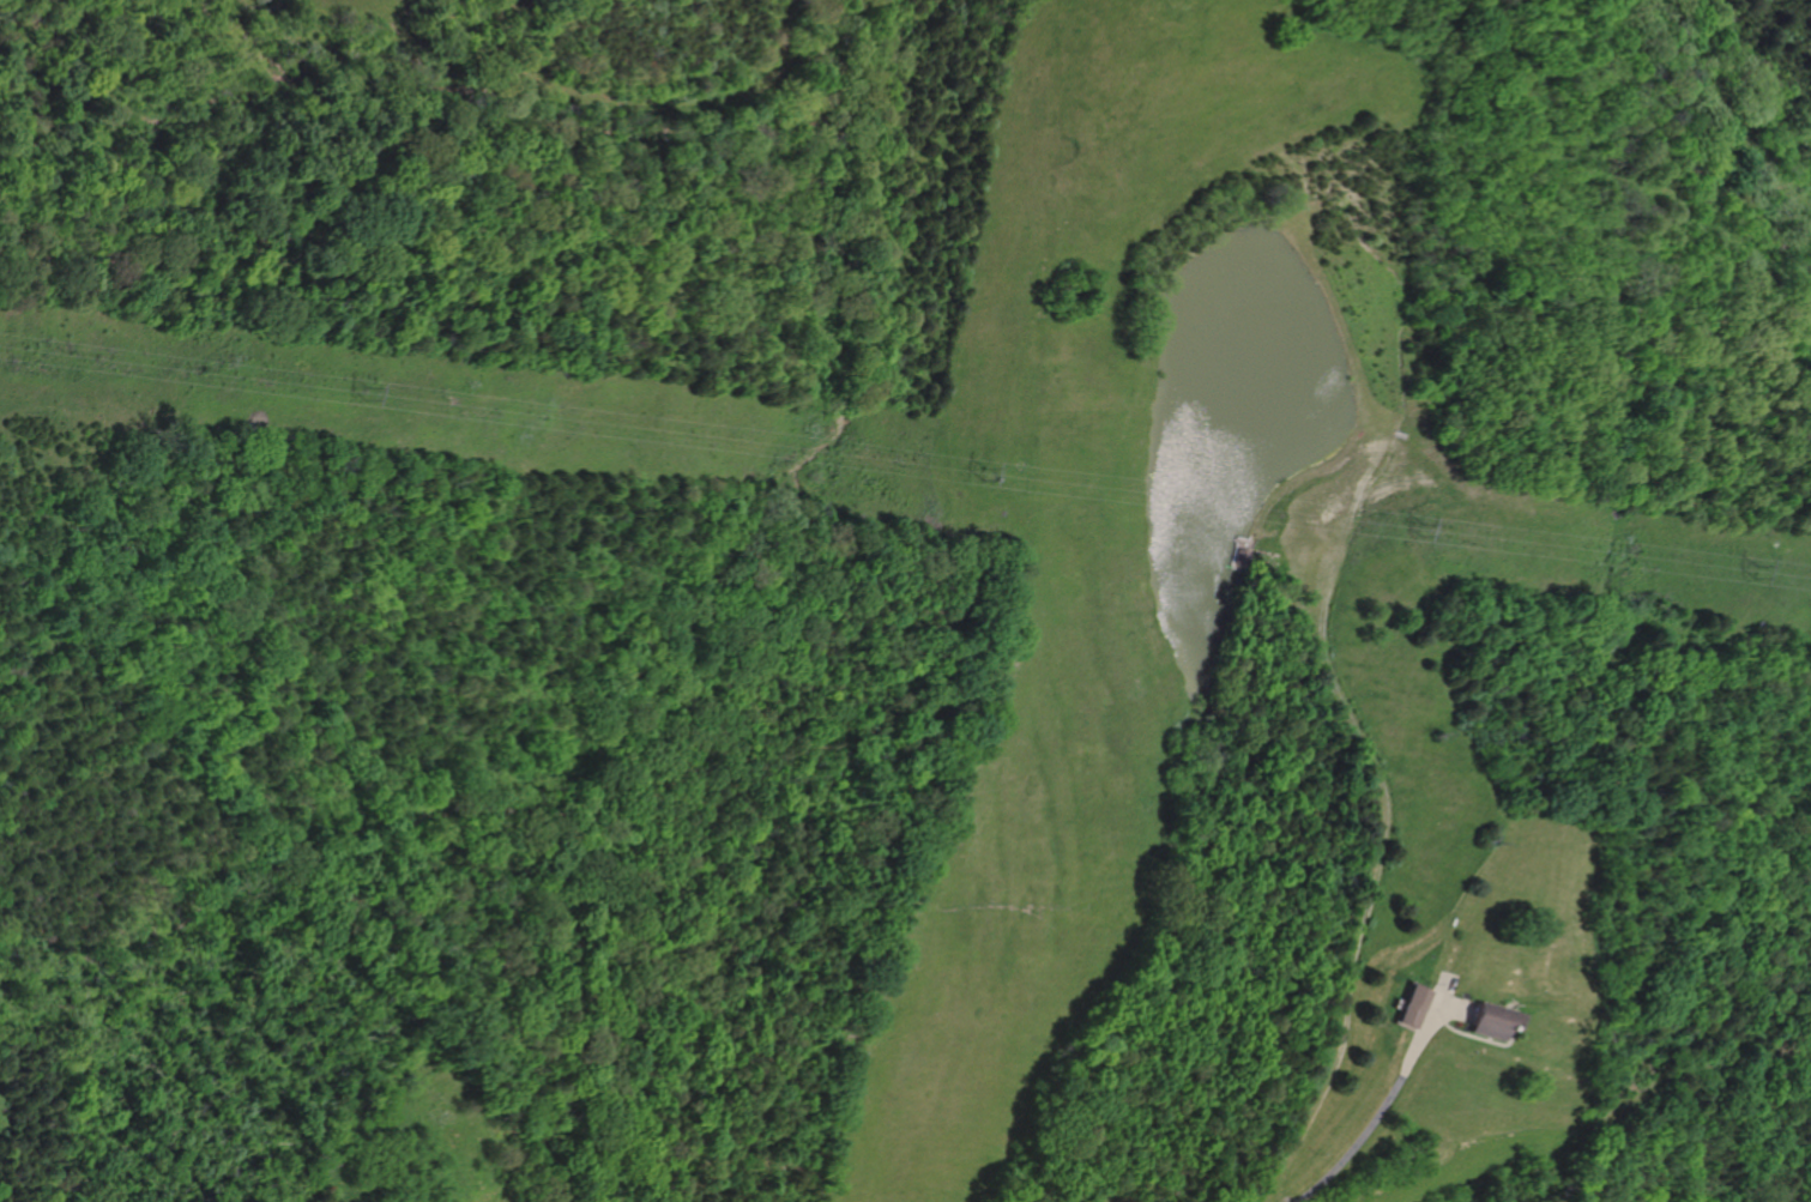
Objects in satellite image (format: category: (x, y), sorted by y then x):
power tower: (358, 388)
power tower: (978, 467)
power tower: (1414, 527)
power tower: (1746, 570)
road: (1386, 836)
building: (1417, 1004)
road: (1455, 1007)
building: (1492, 1020)
road: (1425, 1025)
road: (1471, 1037)
road: (1485, 1039)
road: (1354, 1144)

